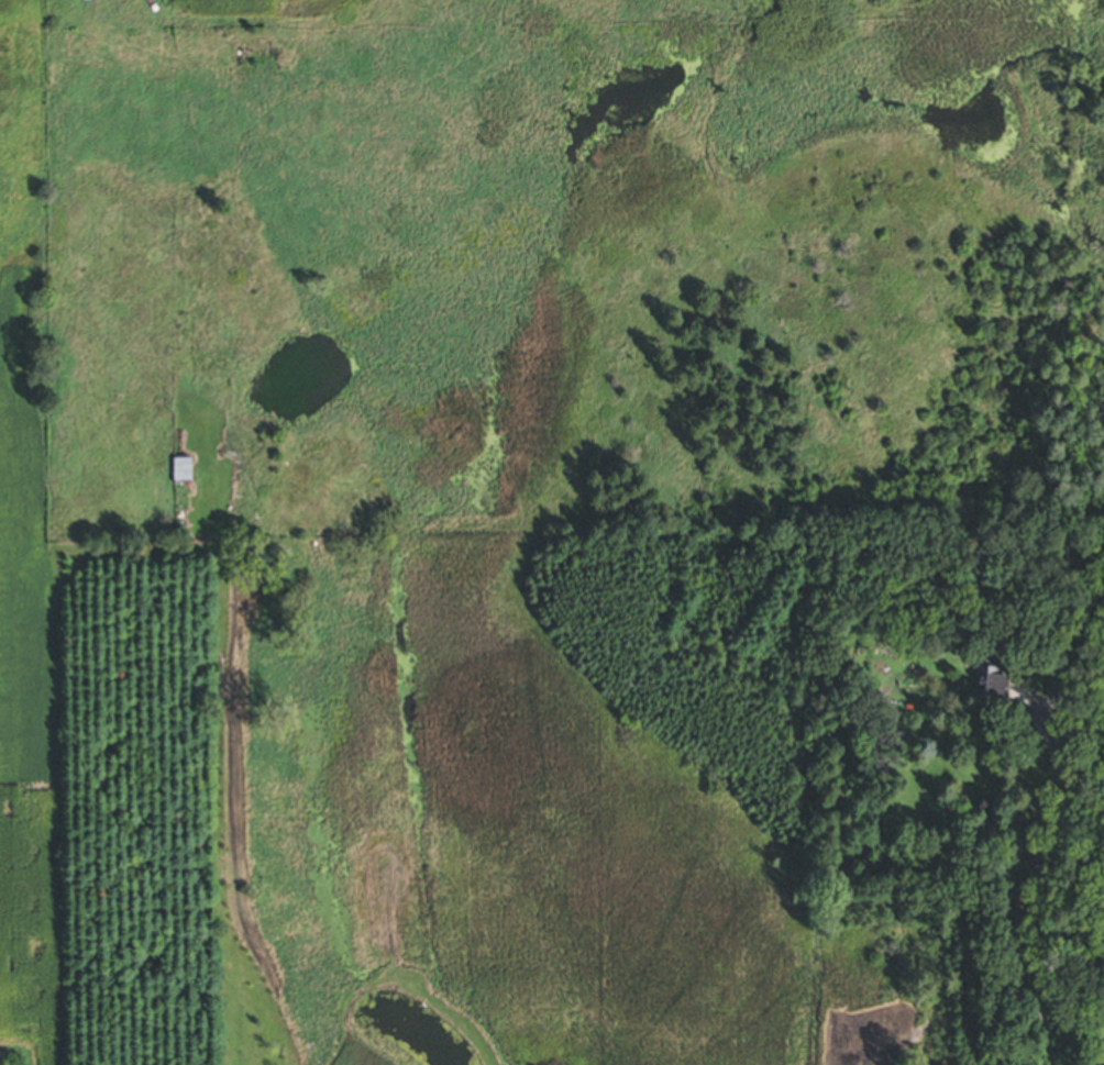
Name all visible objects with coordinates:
building: (179, 472)
building: (985, 686)
road: (1027, 880)
road: (1102, 1061)

